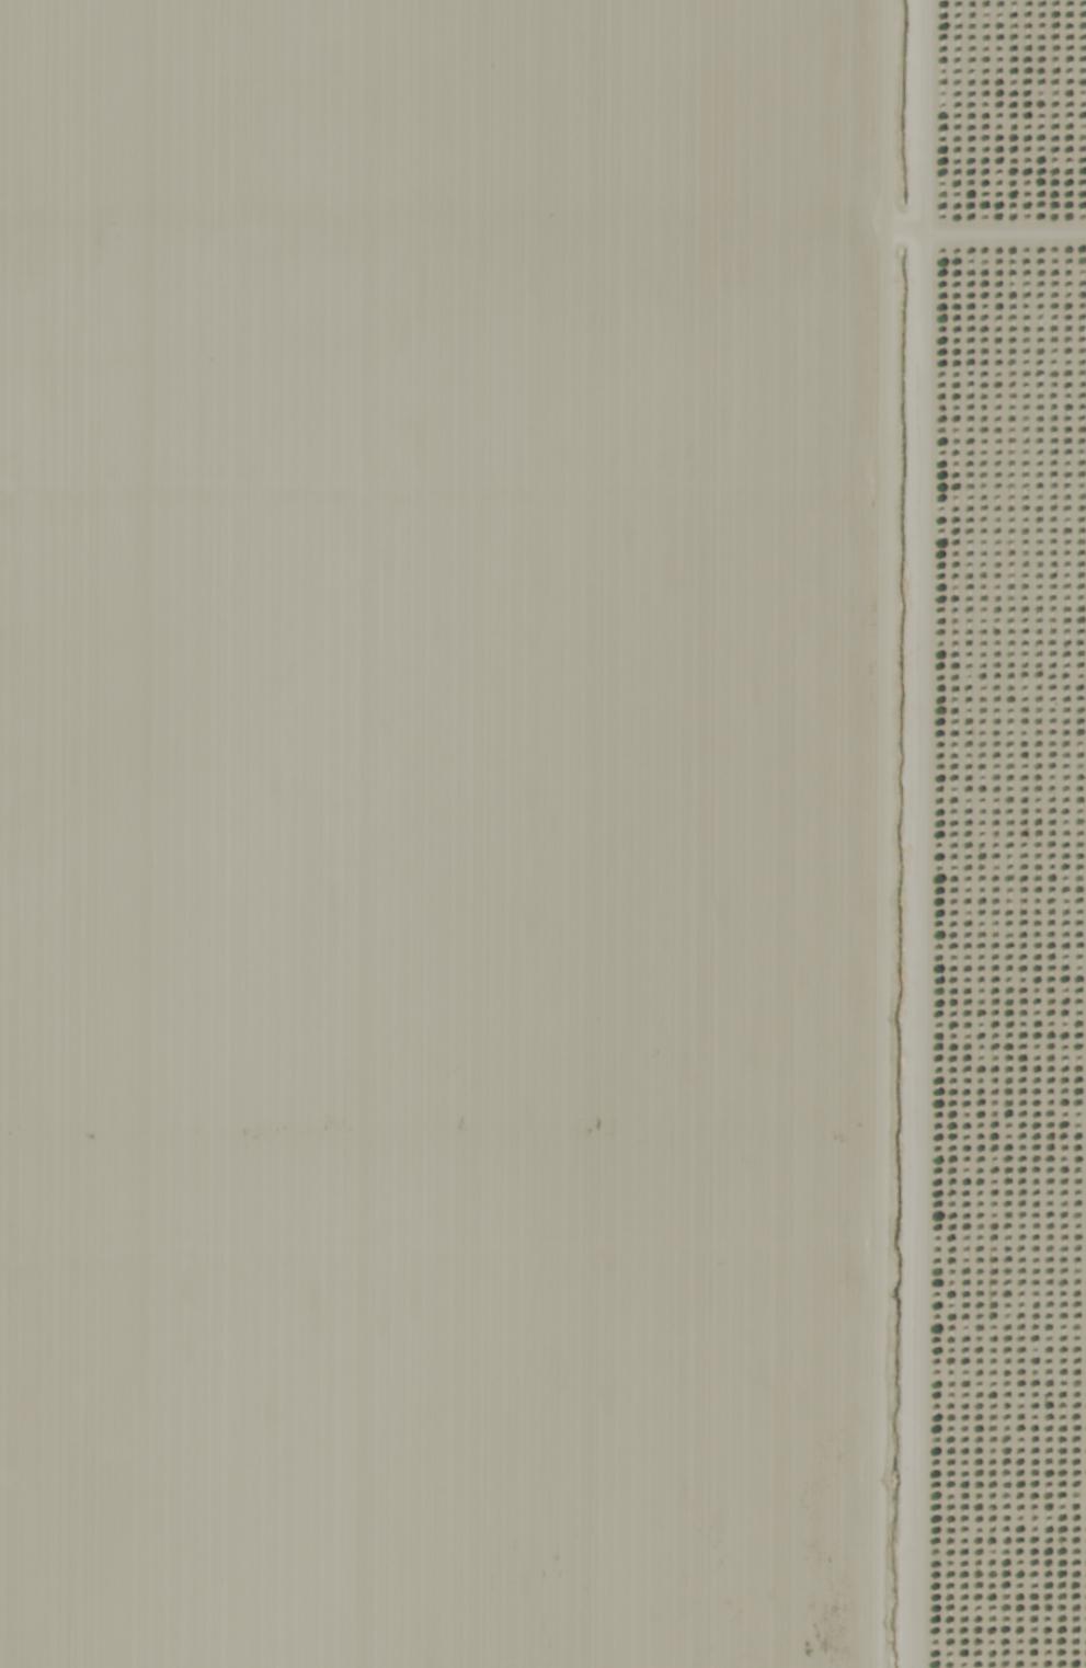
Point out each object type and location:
crop: (464, 108)
road: (948, 834)
crop: (1007, 834)
crop: (465, 942)

